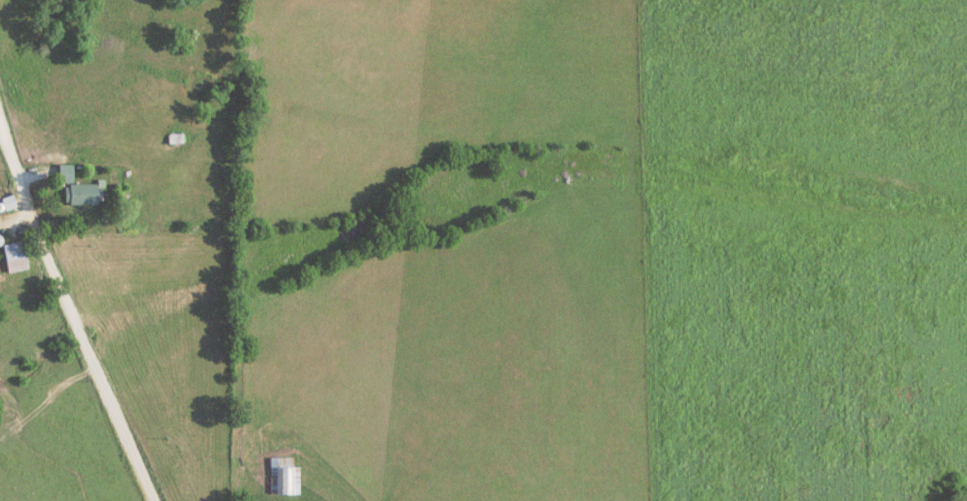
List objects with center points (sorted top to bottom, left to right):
building: (83, 194)
road: (17, 220)
building: (14, 257)
road: (72, 314)
building: (283, 476)

